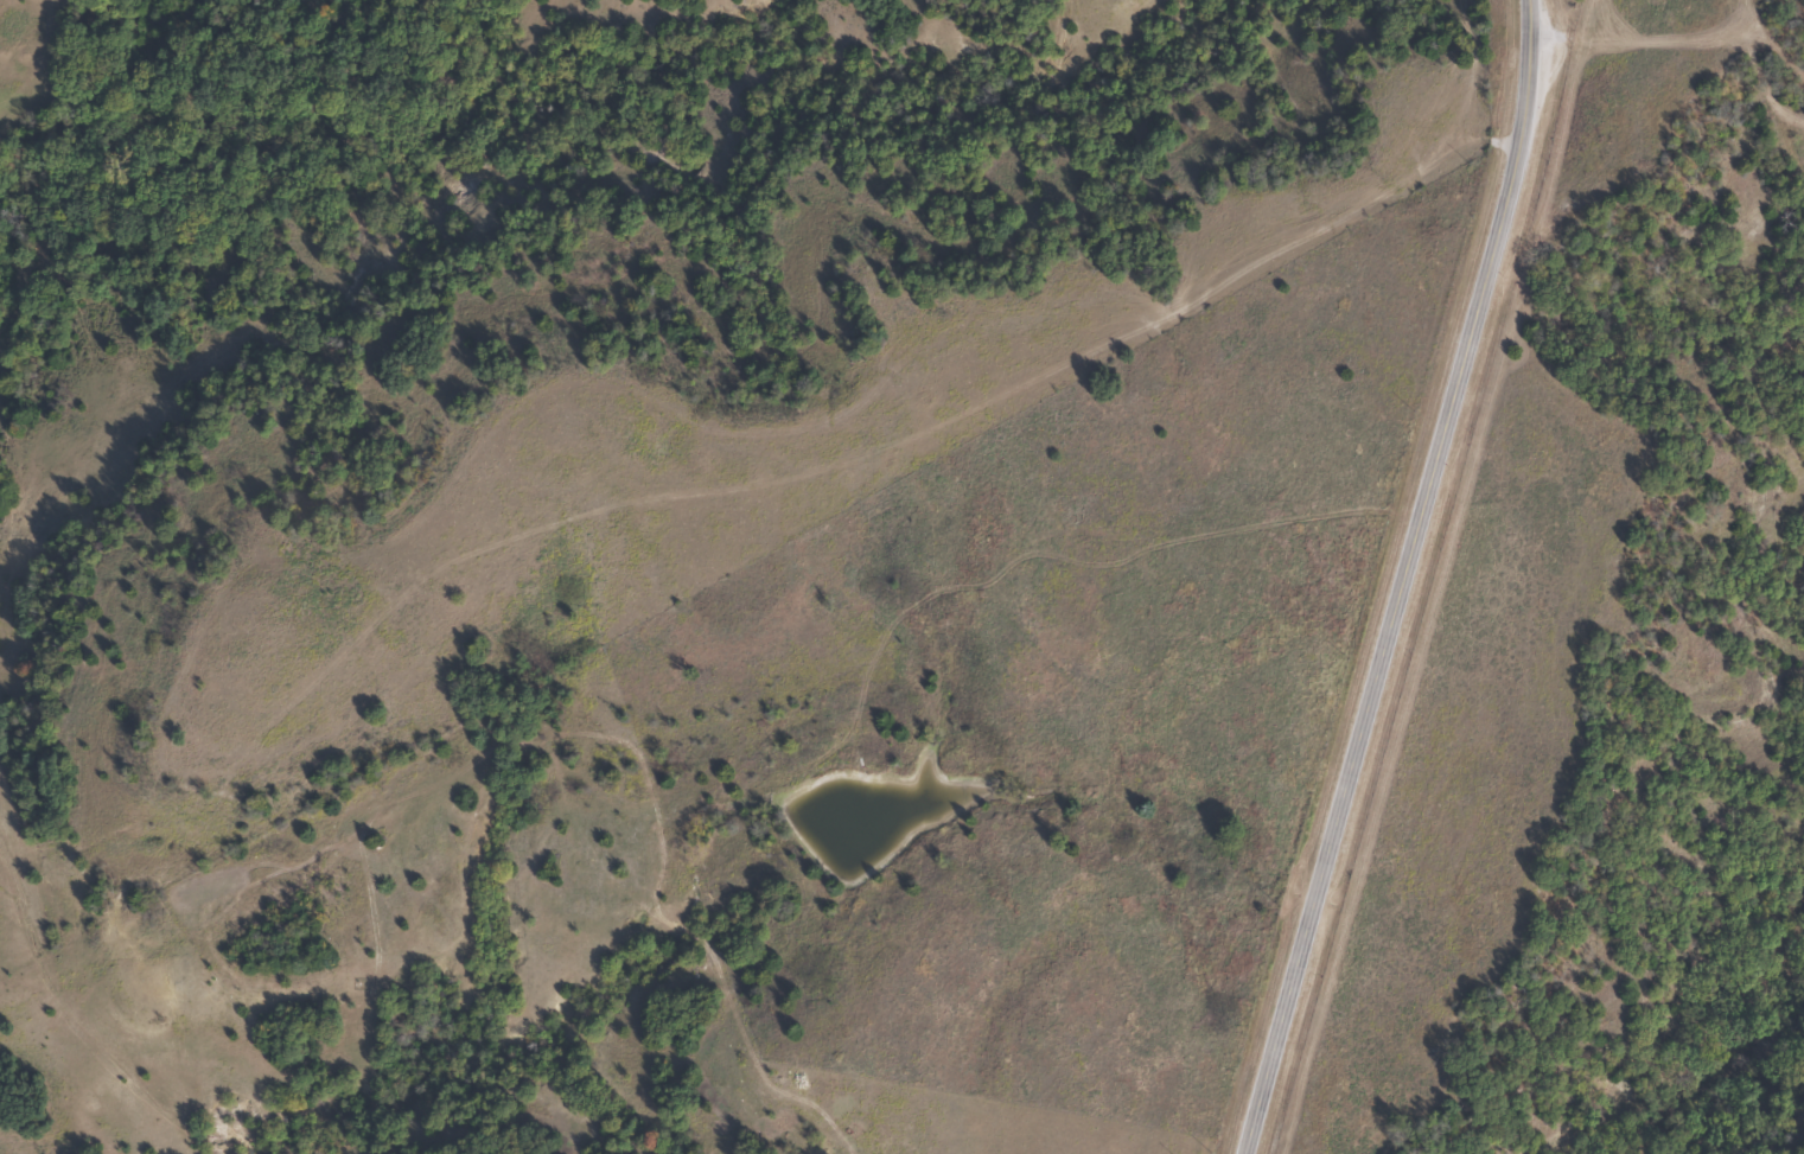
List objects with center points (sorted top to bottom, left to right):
road: (1404, 579)

